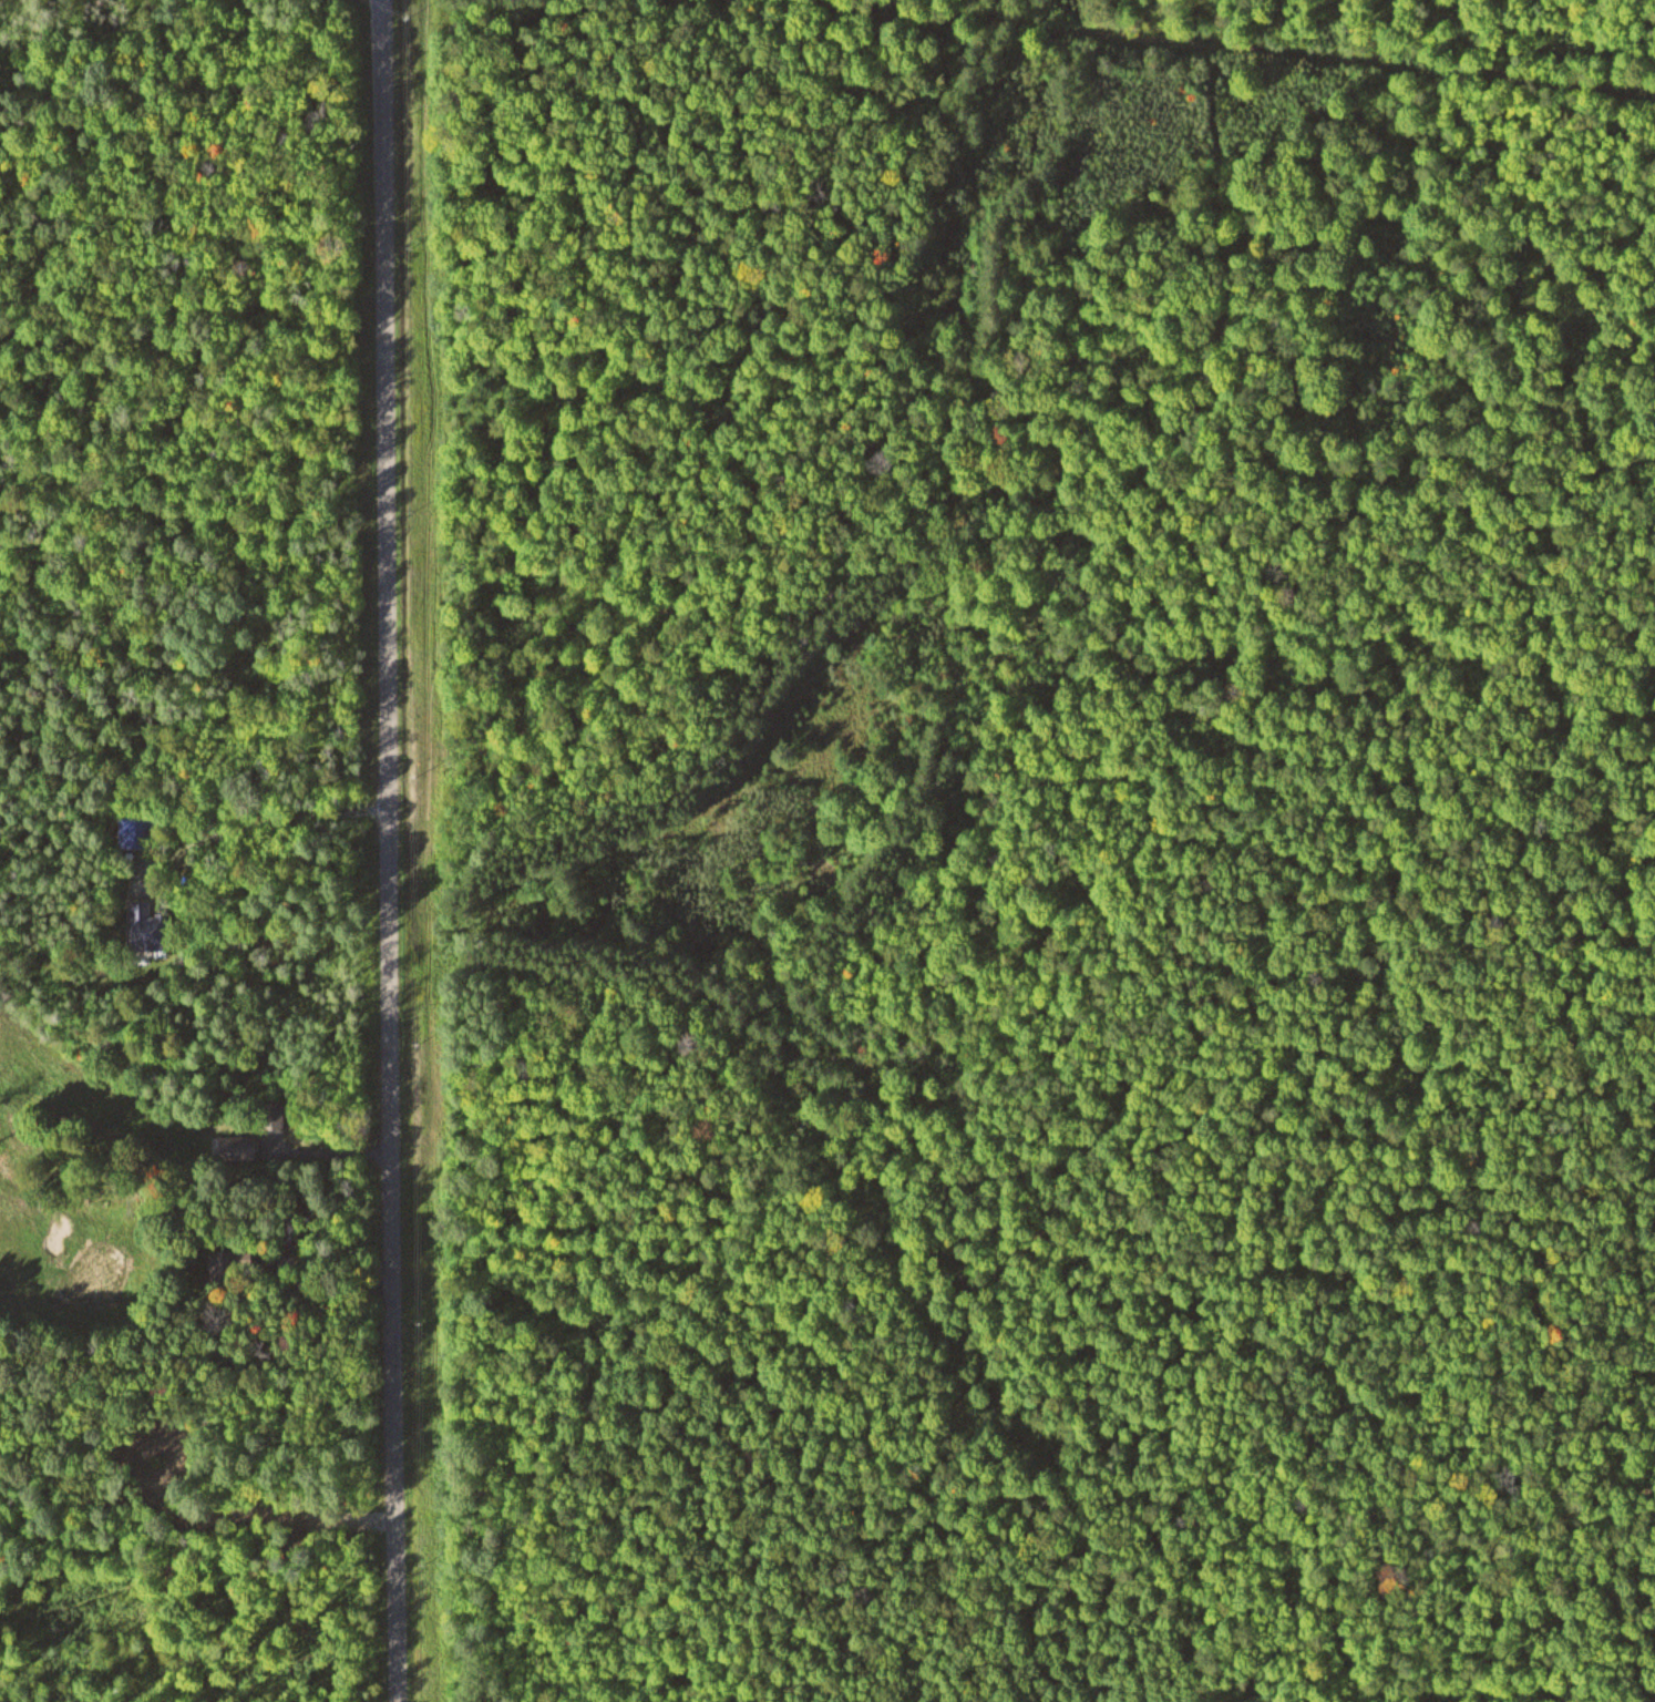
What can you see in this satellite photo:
road: (1220, 47)
building: (133, 828)
road: (392, 851)
building: (137, 924)
building: (271, 1114)
building: (234, 1147)
park: (103, 1158)

